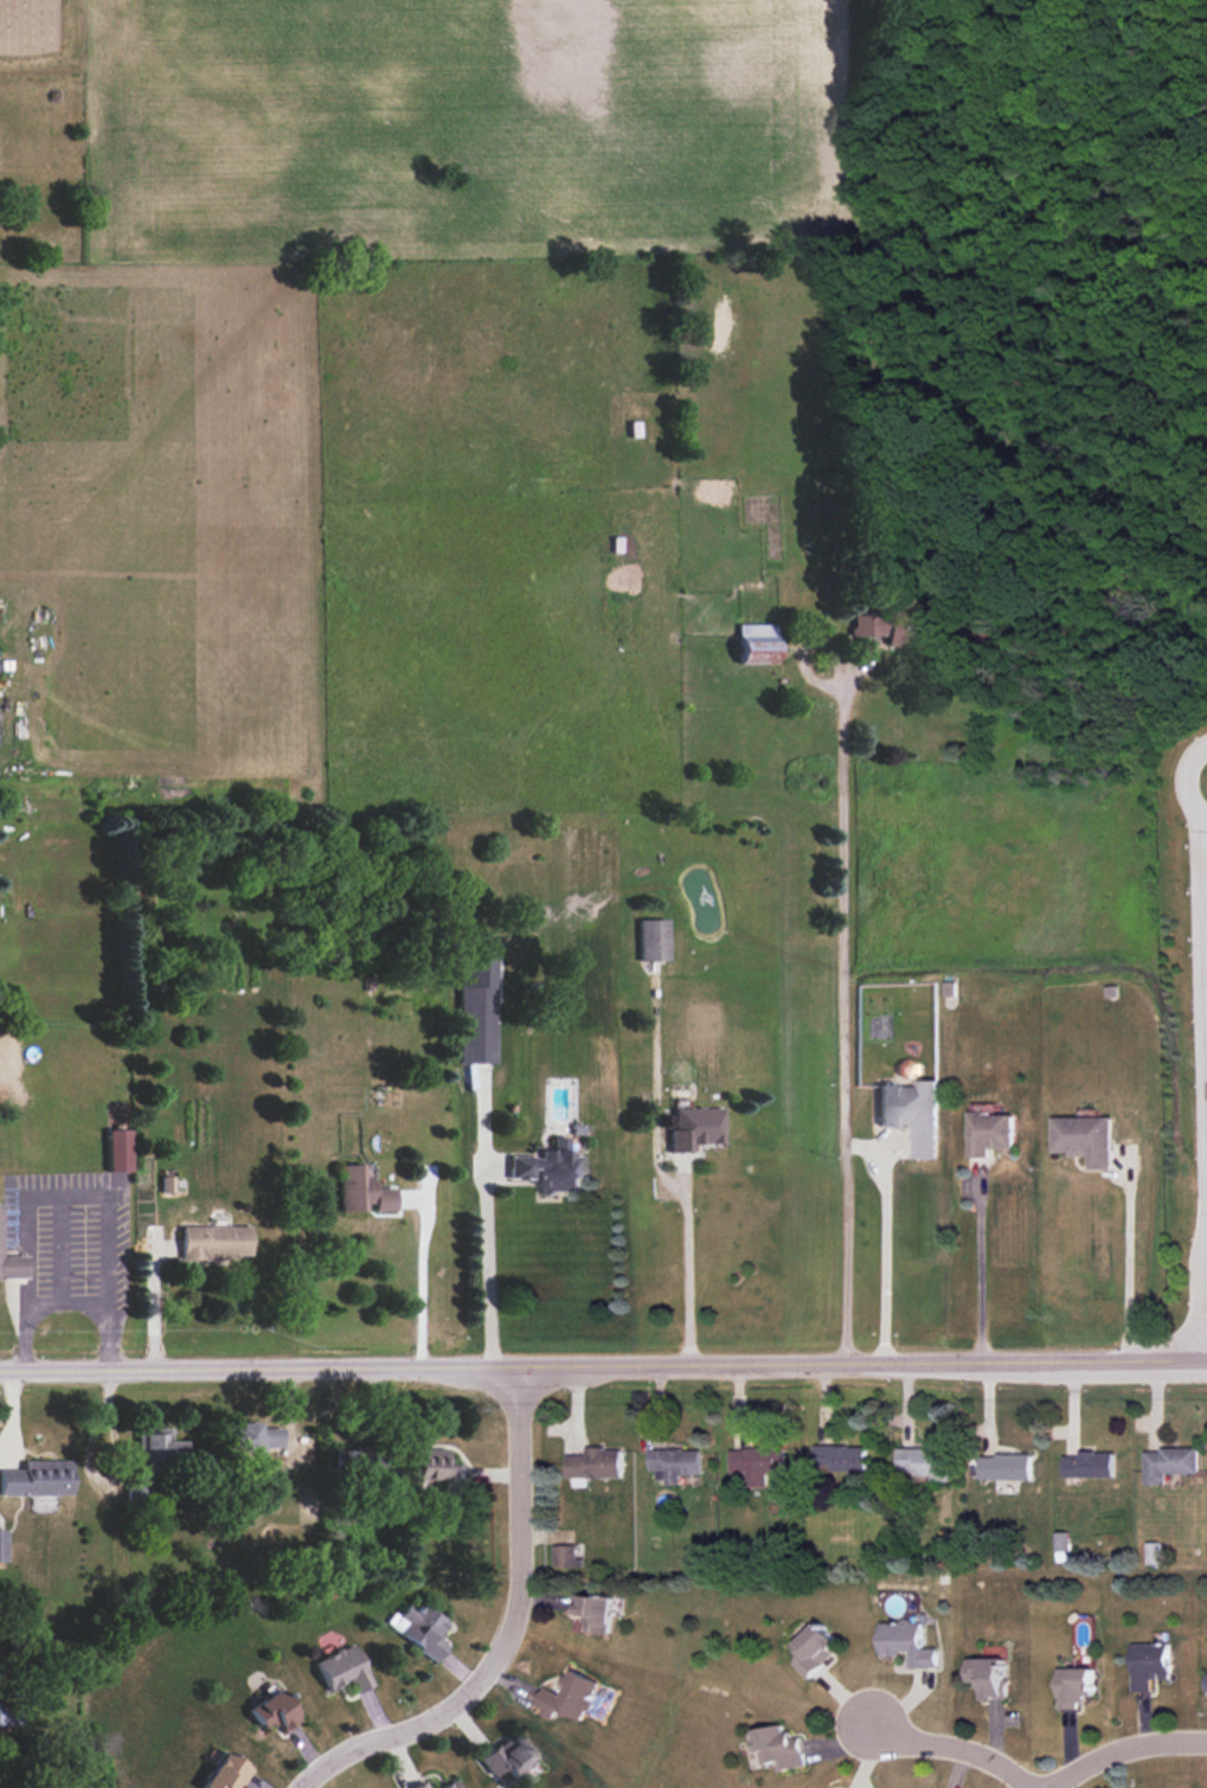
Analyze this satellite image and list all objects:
building: (892, 626)
building: (756, 643)
building: (654, 940)
building: (477, 1010)
road: (843, 1031)
road: (1205, 1097)
building: (912, 1114)
building: (695, 1126)
building: (988, 1133)
building: (1084, 1139)
building: (118, 1149)
building: (550, 1167)
building: (361, 1191)
road: (70, 1194)
building: (214, 1242)
road: (884, 1248)
road: (1126, 1254)
building: (12, 1264)
road: (488, 1264)
road: (686, 1267)
road: (978, 1267)
road: (422, 1277)
road: (66, 1302)
road: (603, 1365)
building: (253, 1436)
building: (158, 1446)
building: (842, 1457)
building: (352, 1460)
building: (925, 1462)
building: (595, 1463)
building: (674, 1463)
building: (757, 1463)
building: (1168, 1463)
building: (1090, 1465)
building: (1006, 1467)
building: (437, 1469)
building: (37, 1479)
building: (2, 1545)
building: (1153, 1552)
building: (566, 1558)
building: (593, 1611)
building: (420, 1628)
road: (508, 1634)
building: (906, 1642)
building: (816, 1648)
building: (1149, 1665)
building: (344, 1668)
building: (988, 1675)
building: (1206, 1683)
building: (1074, 1685)
building: (567, 1697)
building: (274, 1712)
building: (14, 1716)
building: (779, 1748)
road: (945, 1748)
road: (1123, 1750)
building: (226, 1773)

